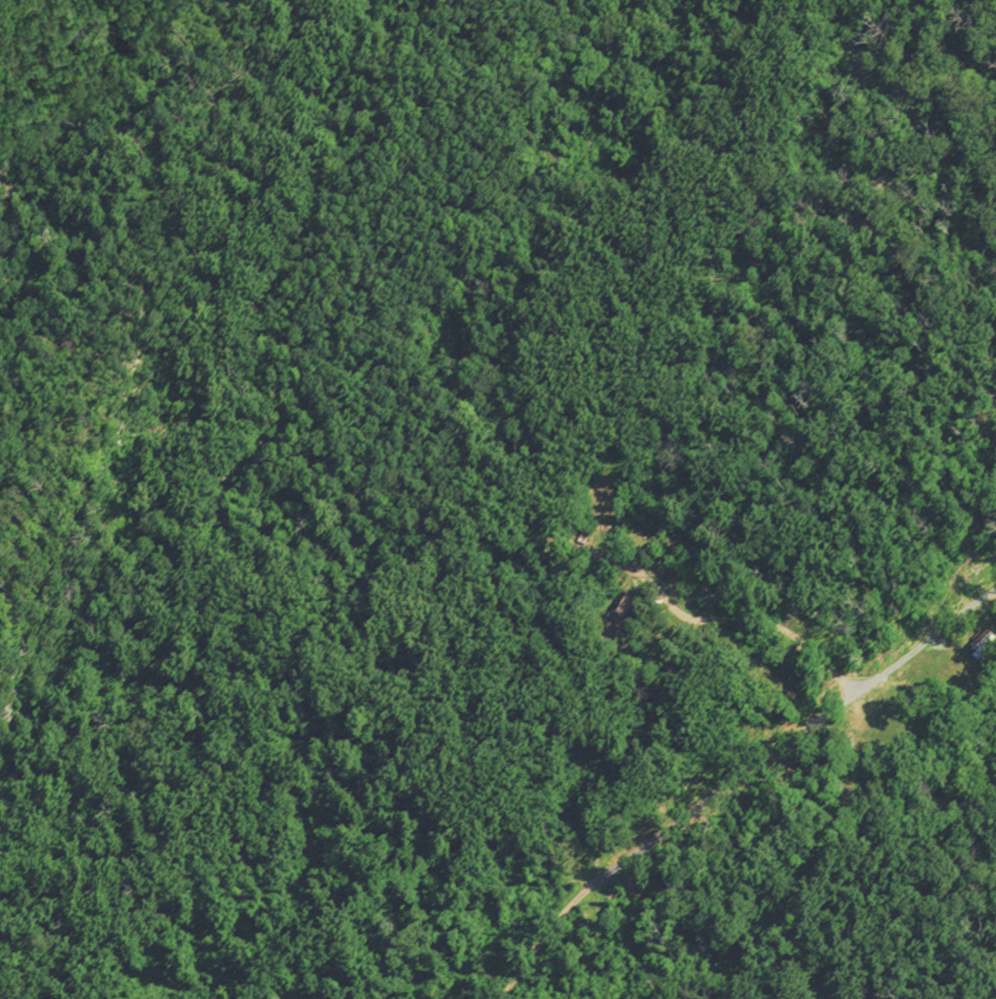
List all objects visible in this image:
road: (130, 229)
road: (756, 618)
building: (976, 652)
road: (734, 778)

